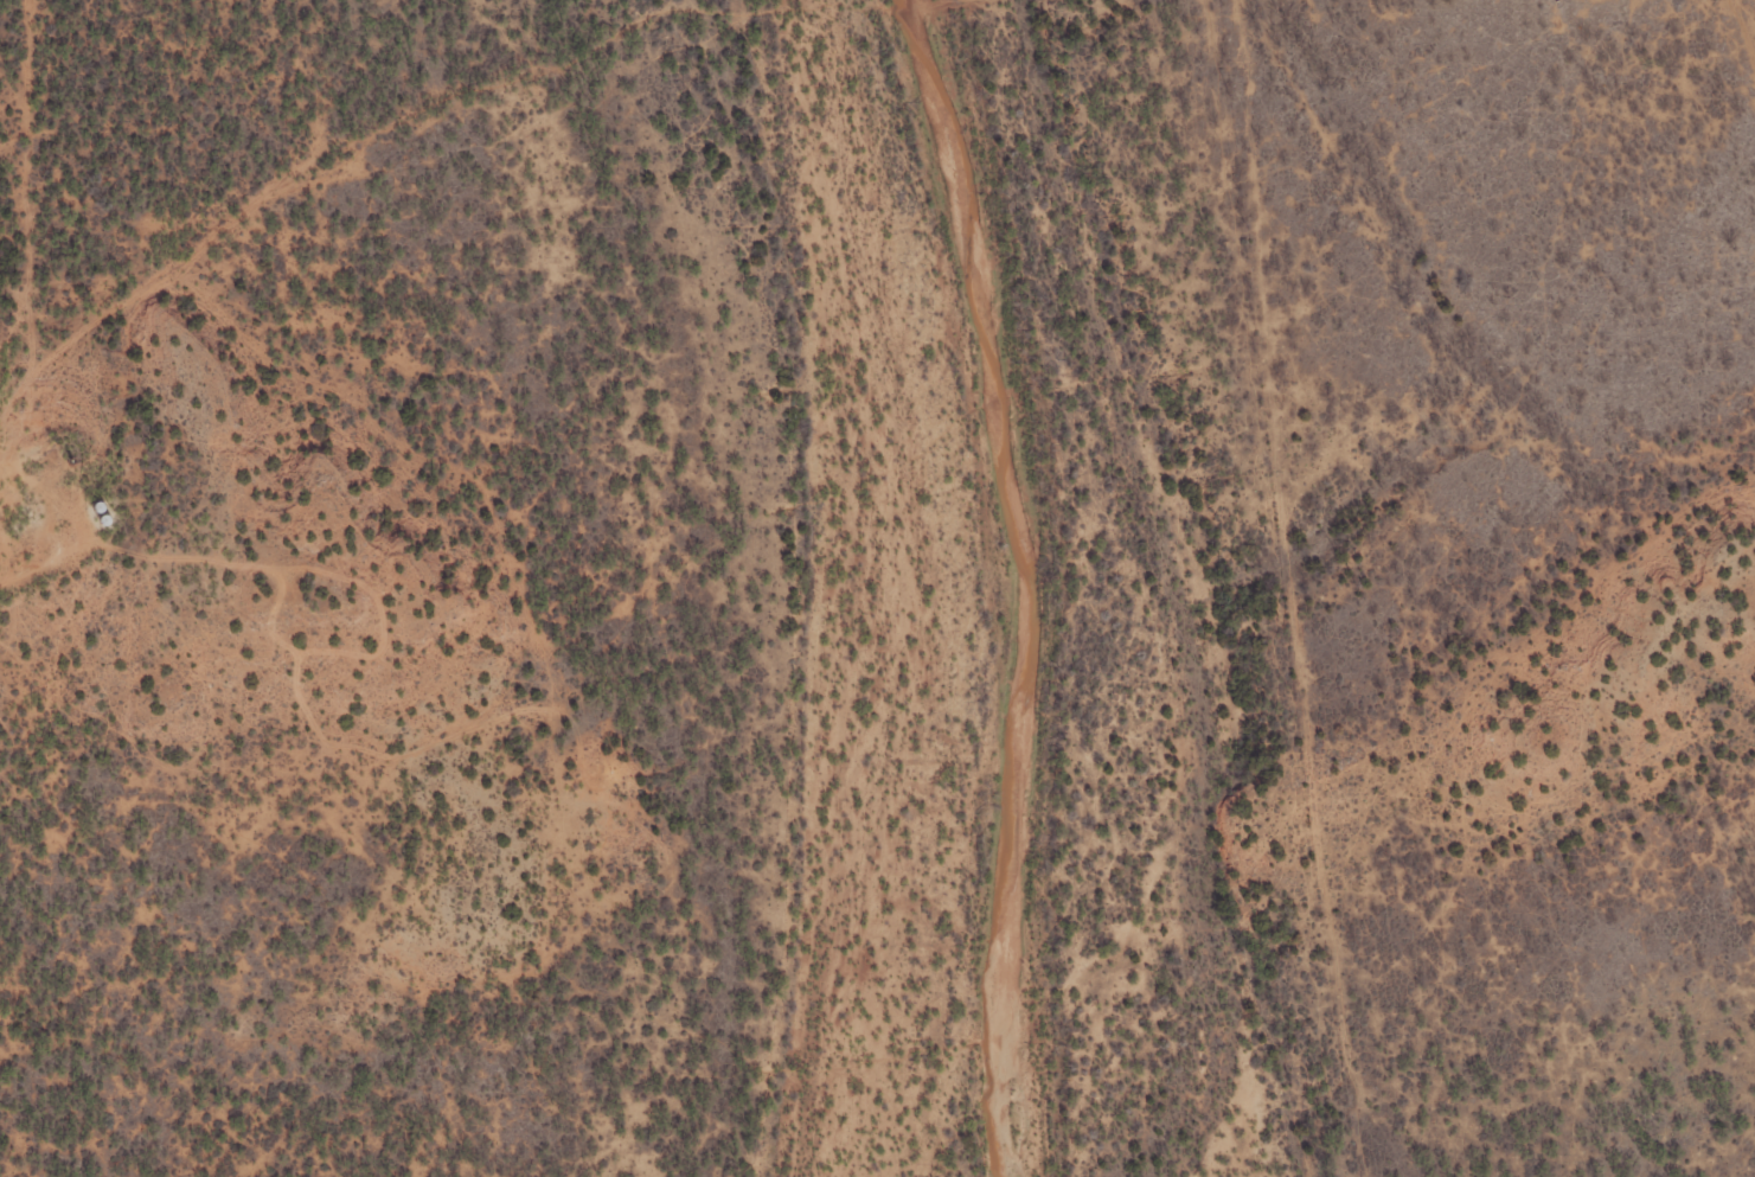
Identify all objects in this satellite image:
road: (145, 196)
road: (1428, 344)
river: (982, 584)

